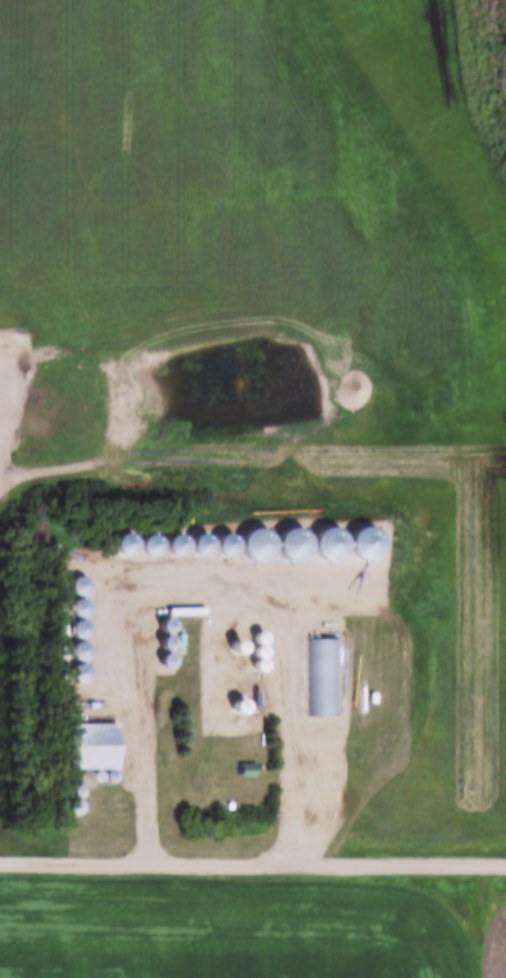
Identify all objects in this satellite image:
building: (261, 553)
building: (322, 685)
road: (149, 702)
building: (88, 752)
building: (243, 769)
road: (253, 858)

